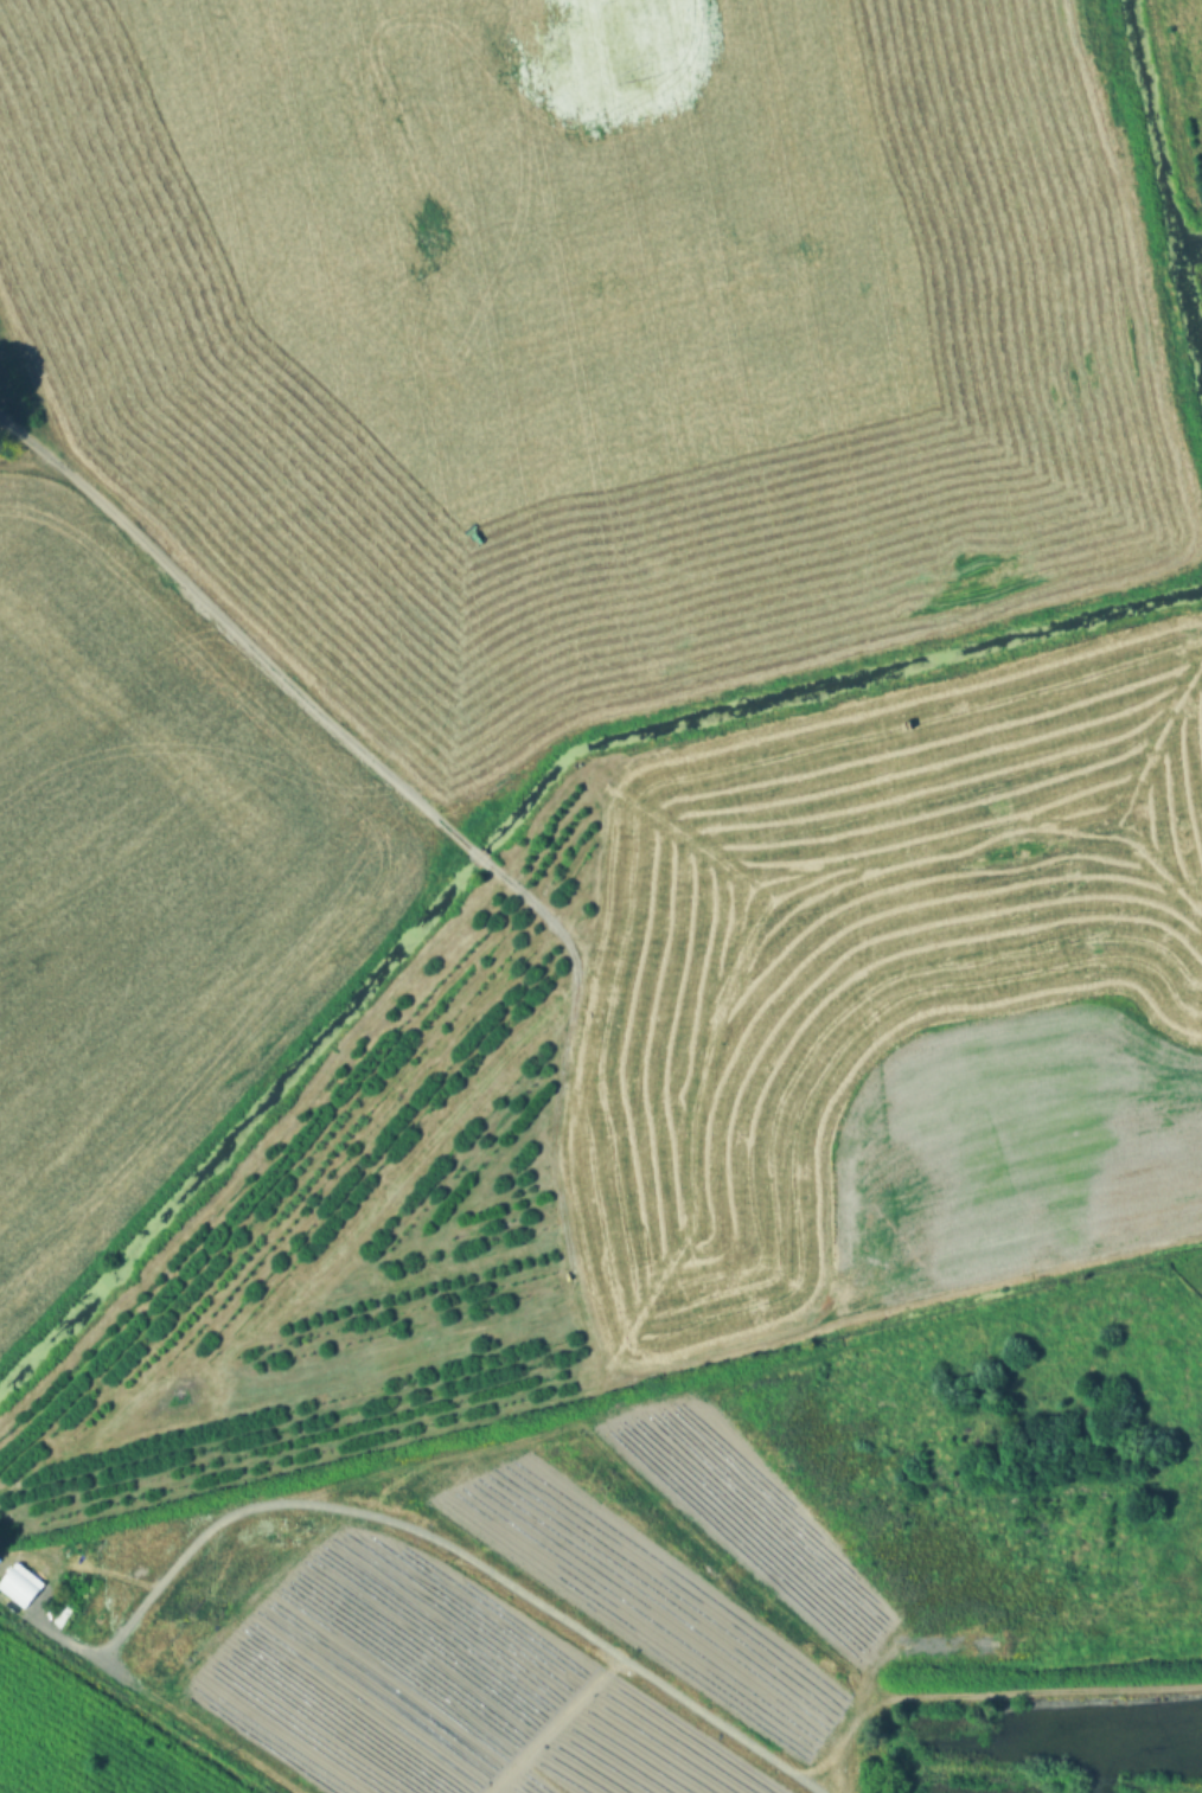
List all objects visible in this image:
crop: (595, 329)
crop: (149, 876)
crop: (893, 1000)
road: (341, 1511)

